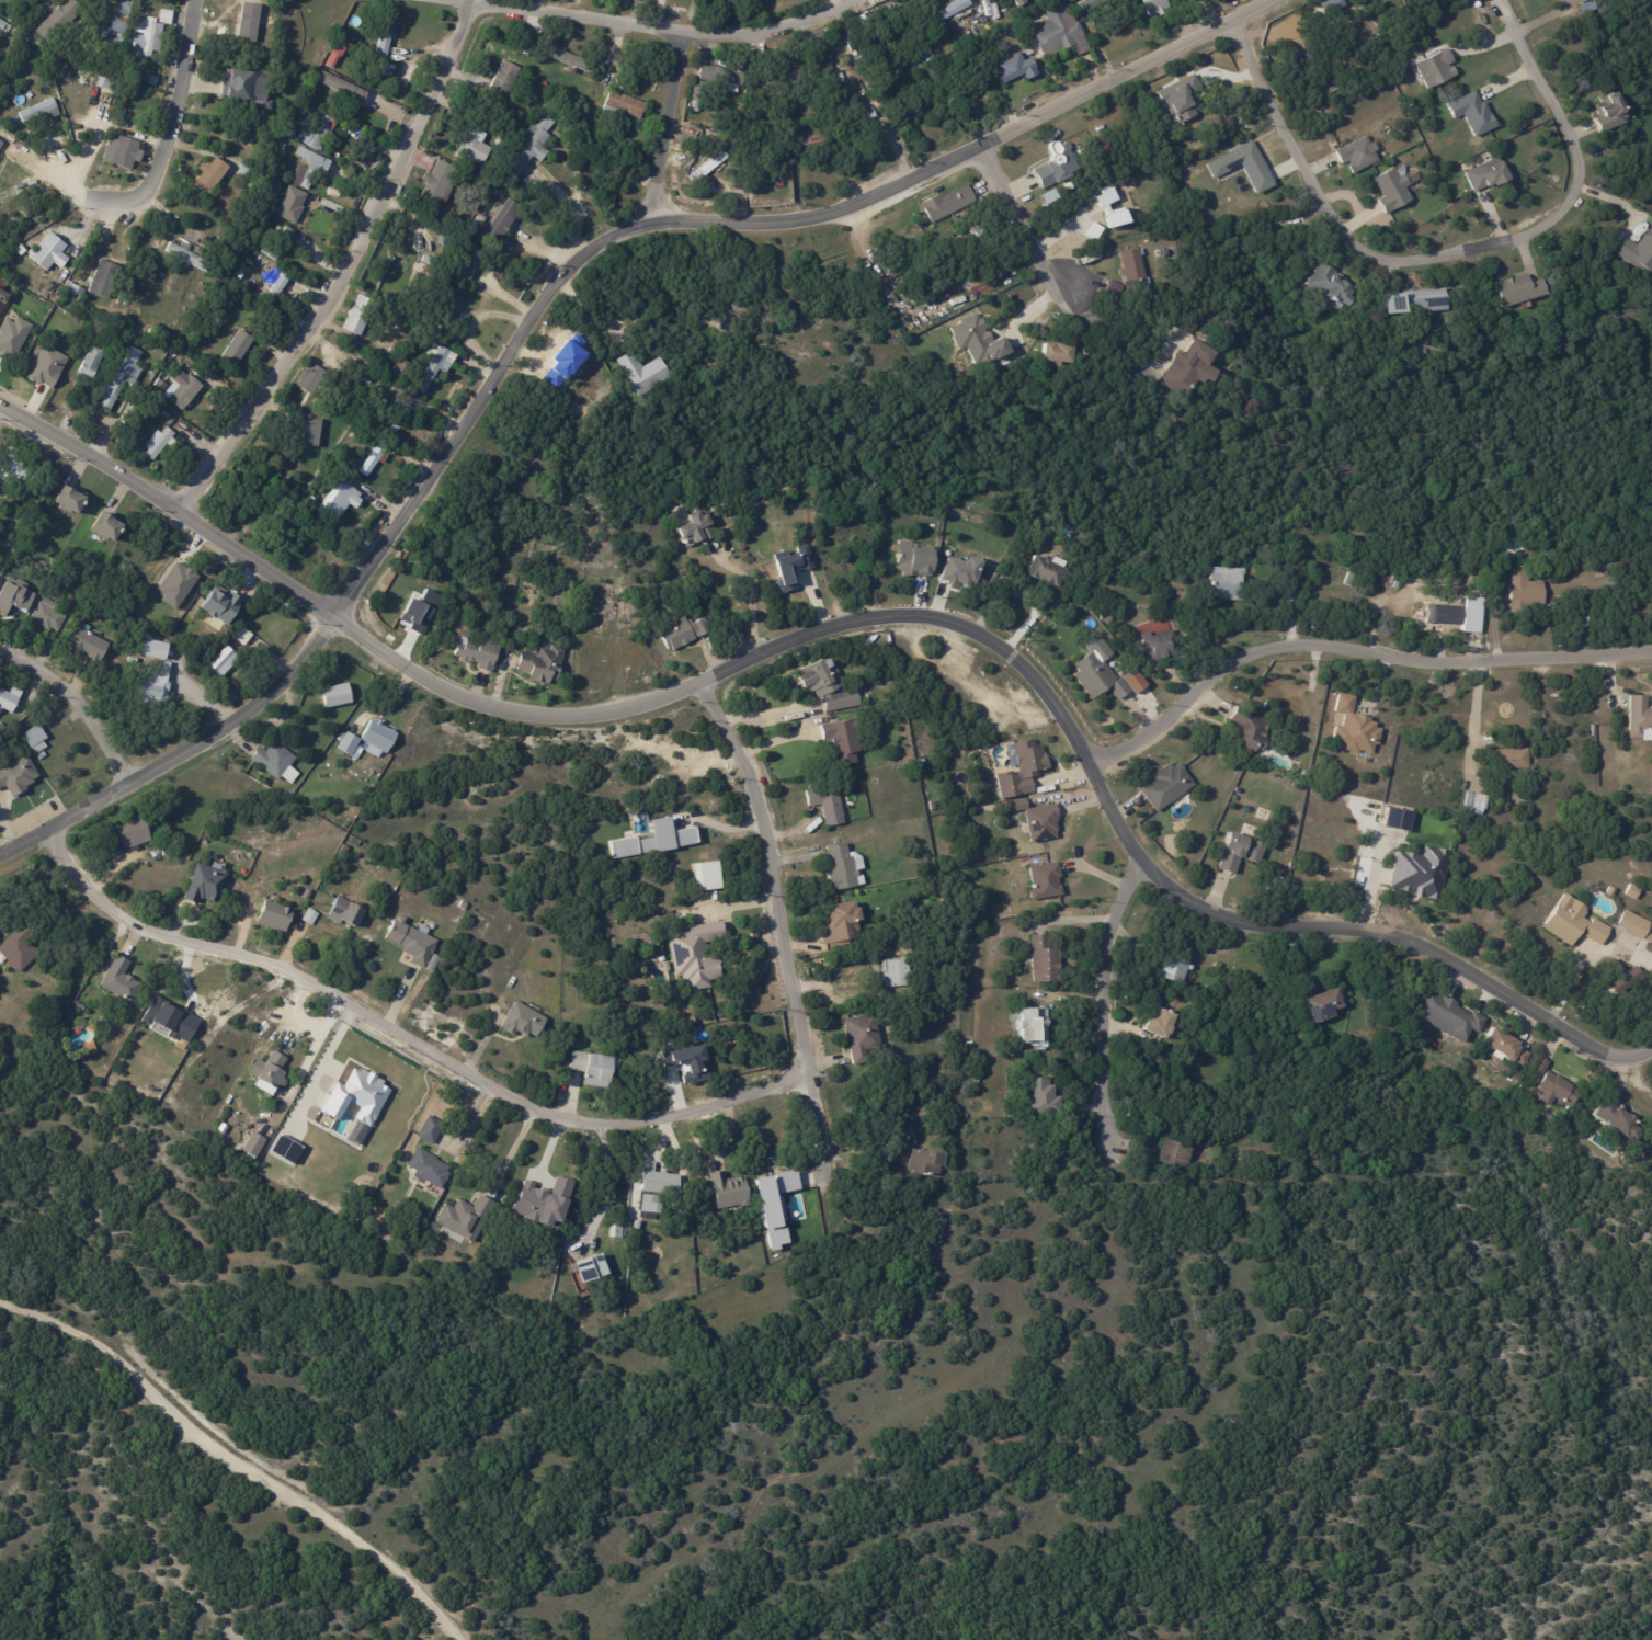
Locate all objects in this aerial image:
building: (1581, 0)
building: (1586, 1)
building: (1021, 2)
building: (1092, 4)
building: (720, 5)
building: (1155, 7)
building: (946, 12)
building: (164, 16)
building: (56, 18)
building: (119, 24)
building: (4, 30)
building: (1059, 32)
road: (659, 34)
building: (147, 38)
building: (385, 42)
building: (1029, 50)
building: (926, 53)
building: (562, 57)
building: (332, 62)
building: (1016, 68)
building: (1438, 69)
building: (781, 73)
building: (504, 76)
building: (148, 79)
building: (835, 82)
building: (715, 83)
building: (244, 86)
building: (341, 88)
building: (132, 90)
building: (960, 92)
building: (524, 103)
building: (623, 105)
building: (859, 106)
building: (37, 111)
building: (586, 112)
building: (1613, 113)
building: (1473, 114)
building: (868, 115)
road: (658, 127)
building: (316, 129)
building: (0, 141)
building: (814, 143)
building: (0, 145)
building: (1317, 145)
building: (527, 148)
road: (162, 150)
building: (474, 150)
building: (1403, 150)
building: (126, 153)
building: (1359, 155)
building: (710, 163)
building: (1055, 166)
building: (1241, 166)
building: (309, 169)
building: (244, 172)
building: (209, 176)
building: (1489, 176)
building: (248, 184)
building: (435, 184)
building: (269, 185)
building: (1393, 191)
building: (334, 193)
building: (1105, 196)
building: (289, 204)
building: (948, 204)
building: (310, 215)
building: (1113, 216)
road: (719, 217)
building: (480, 220)
building: (503, 220)
road: (1018, 229)
building: (440, 230)
building: (973, 234)
building: (1170, 238)
building: (442, 243)
building: (277, 246)
building: (186, 247)
road: (1442, 250)
building: (20, 251)
building: (1637, 251)
building: (48, 253)
building: (187, 257)
building: (426, 261)
building: (466, 262)
road: (345, 269)
building: (1135, 270)
building: (274, 274)
building: (425, 277)
building: (103, 280)
building: (1331, 287)
building: (1114, 288)
building: (76, 291)
building: (275, 291)
building: (1522, 293)
building: (2, 300)
building: (1414, 304)
building: (449, 310)
building: (360, 315)
road: (586, 316)
building: (150, 333)
building: (11, 335)
building: (975, 340)
road: (1106, 342)
building: (237, 349)
building: (1085, 350)
building: (1058, 355)
building: (380, 362)
building: (90, 364)
building: (46, 366)
building: (1186, 368)
building: (401, 371)
building: (434, 371)
building: (643, 372)
building: (122, 379)
building: (310, 379)
building: (185, 394)
building: (128, 411)
building: (161, 419)
building: (401, 419)
building: (307, 433)
building: (159, 444)
building: (374, 460)
building: (16, 475)
building: (349, 500)
building: (70, 501)
building: (310, 501)
road: (171, 510)
building: (337, 513)
building: (107, 528)
building: (697, 528)
building: (912, 559)
building: (1626, 560)
building: (789, 567)
building: (957, 571)
building: (1047, 571)
building: (1349, 579)
building: (1006, 581)
building: (1228, 583)
building: (1500, 583)
building: (175, 584)
building: (1398, 584)
road: (749, 589)
building: (1526, 591)
building: (13, 595)
building: (1272, 599)
building: (79, 600)
building: (219, 604)
building: (1446, 613)
building: (47, 617)
building: (1106, 617)
building: (682, 633)
building: (242, 637)
building: (1160, 645)
building: (87, 646)
road: (1353, 648)
building: (150, 651)
building: (478, 652)
building: (224, 663)
building: (542, 663)
building: (1100, 676)
building: (1131, 682)
building: (152, 684)
building: (828, 685)
road: (1032, 691)
building: (335, 696)
building: (9, 701)
road: (77, 704)
road: (767, 716)
building: (1640, 716)
road: (1472, 721)
building: (1356, 728)
building: (1, 730)
building: (1250, 730)
building: (379, 737)
building: (35, 741)
building: (843, 741)
road: (175, 745)
building: (349, 745)
building: (1514, 759)
building: (276, 763)
building: (1019, 768)
building: (18, 778)
building: (266, 784)
building: (1167, 786)
building: (829, 802)
building: (1477, 804)
building: (1006, 819)
building: (1038, 819)
building: (1398, 820)
road: (718, 825)
building: (133, 834)
building: (656, 840)
building: (1238, 851)
building: (844, 868)
building: (1423, 872)
building: (704, 875)
building: (1046, 881)
building: (204, 884)
building: (1611, 891)
building: (1633, 891)
building: (306, 895)
building: (463, 906)
building: (345, 913)
building: (274, 916)
building: (310, 918)
building: (999, 919)
building: (1575, 922)
building: (841, 925)
building: (1637, 926)
road: (790, 939)
building: (417, 945)
building: (18, 948)
building: (697, 955)
building: (1045, 960)
building: (1175, 969)
building: (897, 973)
building: (119, 981)
building: (1623, 981)
building: (66, 1003)
building: (1321, 1003)
road: (1106, 1012)
building: (1446, 1016)
building: (170, 1020)
building: (523, 1021)
building: (690, 1022)
building: (1030, 1024)
building: (1162, 1024)
road: (397, 1034)
building: (862, 1037)
building: (1506, 1050)
road: (1645, 1059)
building: (688, 1063)
building: (1542, 1067)
building: (592, 1069)
building: (270, 1071)
building: (1561, 1091)
building: (356, 1096)
building: (1043, 1096)
building: (1619, 1120)
building: (431, 1130)
building: (253, 1144)
building: (284, 1149)
road: (511, 1153)
building: (1177, 1154)
building: (927, 1163)
building: (429, 1169)
building: (660, 1182)
road: (616, 1185)
building: (730, 1192)
building: (542, 1201)
building: (774, 1205)
building: (649, 1206)
building: (466, 1218)
building: (637, 1226)
building: (616, 1232)
building: (401, 1246)
building: (590, 1269)
road: (239, 1457)

